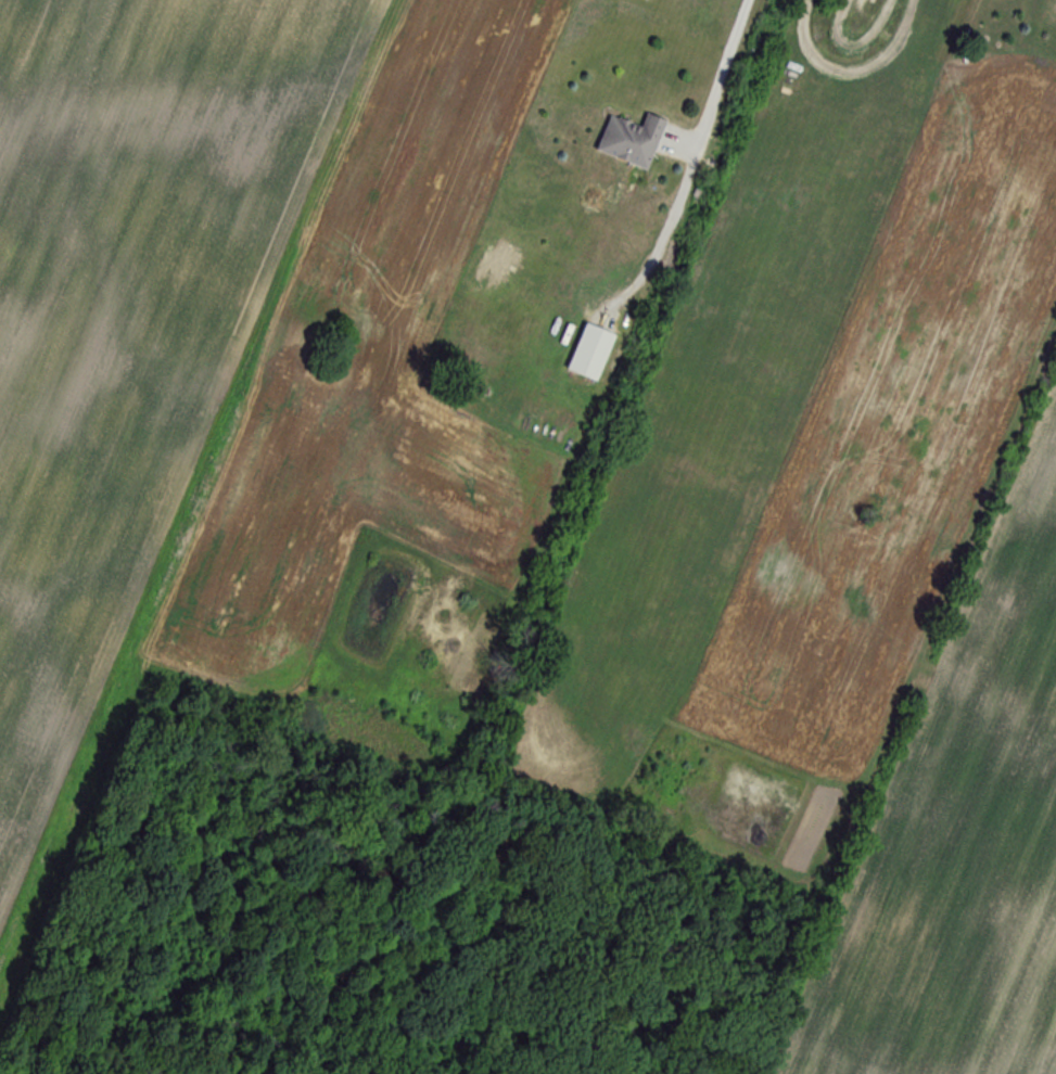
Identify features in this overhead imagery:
building: (632, 140)
road: (696, 151)
building: (485, 268)
crop: (126, 305)
building: (590, 350)
crop: (423, 383)
crop: (798, 458)
crop: (960, 836)

